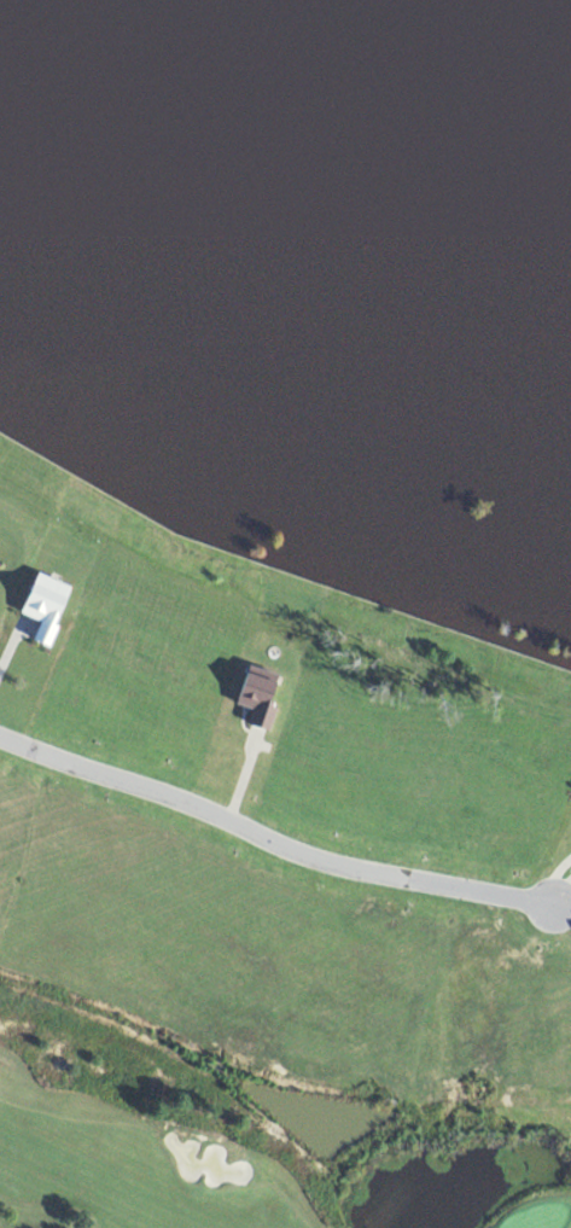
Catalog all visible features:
building: (40, 613)
road: (7, 644)
building: (252, 704)
road: (192, 757)
road: (268, 843)
road: (550, 880)
road: (558, 892)
road: (559, 903)
road: (559, 918)
park: (536, 1216)

